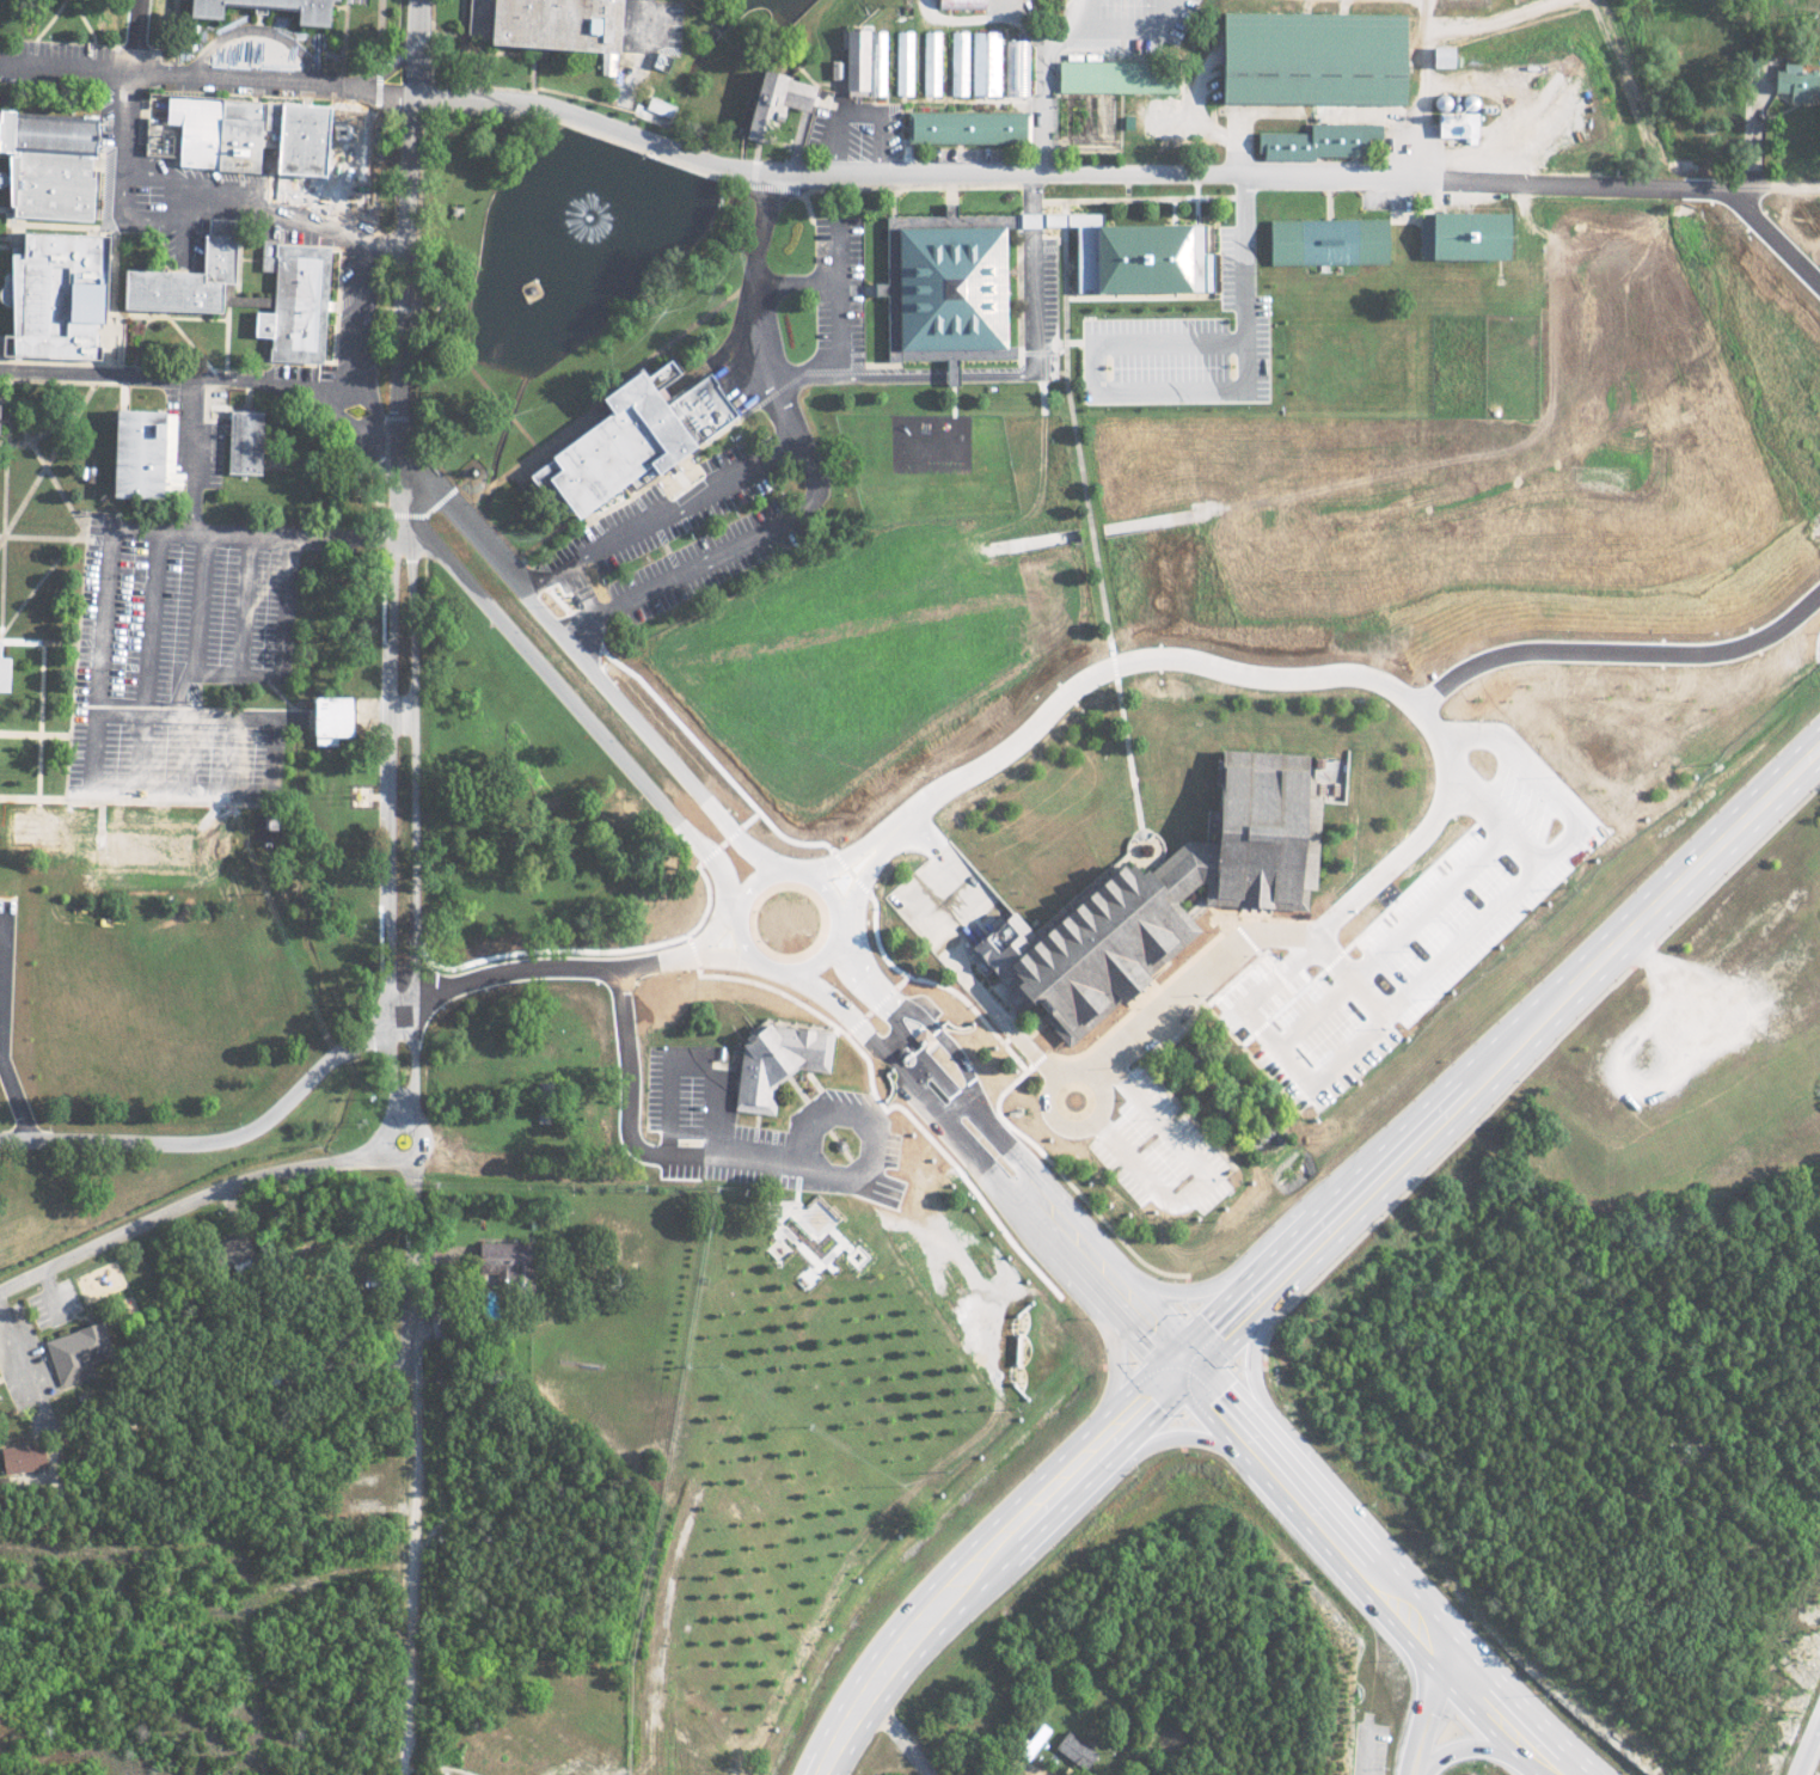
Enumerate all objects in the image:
building: (956, 4)
building: (307, 11)
road: (798, 16)
road: (259, 23)
building: (538, 24)
dam: (765, 54)
building: (901, 55)
building: (929, 55)
building: (1438, 55)
building: (872, 56)
building: (956, 56)
building: (983, 56)
building: (1307, 57)
building: (1016, 65)
building: (1114, 76)
road: (206, 79)
building: (1795, 82)
building: (783, 96)
building: (657, 106)
building: (964, 127)
building: (251, 128)
building: (1316, 141)
building: (43, 164)
road: (967, 176)
road: (911, 179)
road: (1031, 186)
road: (958, 188)
road: (1157, 189)
road: (805, 192)
parking lot: (1385, 192)
road: (1084, 203)
fountain: (586, 204)
building: (1464, 234)
building: (1332, 235)
road: (405, 241)
building: (1139, 250)
road: (825, 271)
road: (417, 274)
road: (784, 275)
building: (178, 277)
parking lot: (835, 280)
road: (869, 281)
building: (954, 283)
road: (1017, 286)
parking lot: (1053, 287)
road: (838, 290)
building: (49, 294)
building: (299, 299)
parking lot: (357, 304)
road: (764, 311)
parking lot: (1193, 312)
road: (1133, 313)
road: (460, 344)
road: (1050, 344)
road: (1065, 345)
road: (998, 363)
road: (221, 378)
road: (336, 384)
road: (6, 399)
road: (11, 403)
road: (510, 408)
building: (5, 416)
road: (526, 428)
road: (552, 435)
building: (645, 436)
building: (245, 441)
building: (151, 451)
road: (48, 453)
road: (50, 463)
road: (470, 463)
building: (91, 465)
road: (490, 476)
road: (477, 484)
road: (606, 501)
road: (5, 506)
road: (409, 508)
road: (656, 515)
road: (1090, 521)
parking lot: (694, 522)
road: (45, 527)
road: (259, 532)
road: (422, 535)
road: (87, 539)
road: (730, 541)
road: (38, 577)
road: (200, 598)
road: (245, 599)
road: (287, 600)
road: (39, 631)
road: (593, 639)
parking lot: (182, 649)
road: (100, 655)
road: (148, 656)
building: (6, 665)
road: (238, 665)
road: (1115, 674)
road: (179, 675)
road: (186, 700)
road: (302, 704)
road: (347, 705)
road: (390, 705)
road: (41, 710)
building: (345, 711)
building: (324, 716)
road: (36, 726)
road: (191, 742)
road: (233, 742)
road: (275, 743)
road: (645, 748)
road: (71, 753)
road: (179, 783)
road: (32, 788)
road: (390, 801)
road: (709, 802)
road: (100, 804)
building: (37, 821)
road: (686, 825)
road: (413, 828)
building: (151, 843)
road: (7, 885)
building: (1175, 893)
parking lot: (6, 961)
road: (2, 973)
road: (1362, 981)
road: (895, 986)
road: (403, 1002)
parking lot: (1303, 1011)
road: (1018, 1027)
road: (403, 1028)
road: (0, 1039)
road: (0, 1046)
road: (1501, 1049)
road: (1126, 1052)
building: (782, 1055)
road: (719, 1058)
road: (795, 1075)
road: (18, 1096)
road: (817, 1107)
parking lot: (776, 1125)
road: (840, 1137)
road: (216, 1139)
road: (423, 1139)
parking lot: (1153, 1151)
road: (557, 1157)
road: (814, 1164)
road: (556, 1174)
road: (1194, 1185)
road: (188, 1201)
road: (1086, 1250)
building: (504, 1263)
building: (74, 1353)
road: (411, 1354)
traffic signals: (1183, 1357)
building: (19, 1458)
road: (985, 1553)
road: (1373, 1569)
road: (406, 1663)
road: (1432, 1713)
road: (1478, 1745)
building: (1073, 1751)
road: (1815, 1767)

